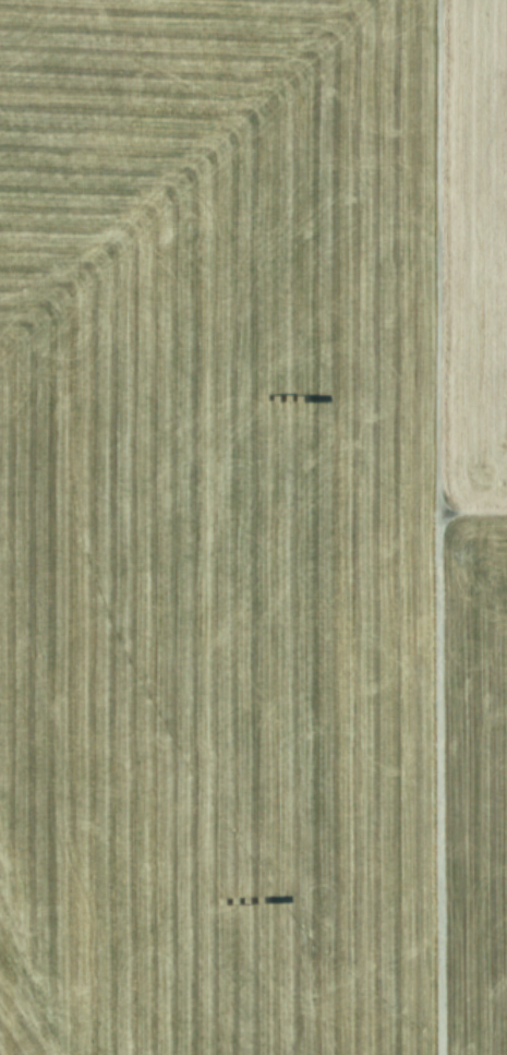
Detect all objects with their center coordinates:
crop: (253, 527)

